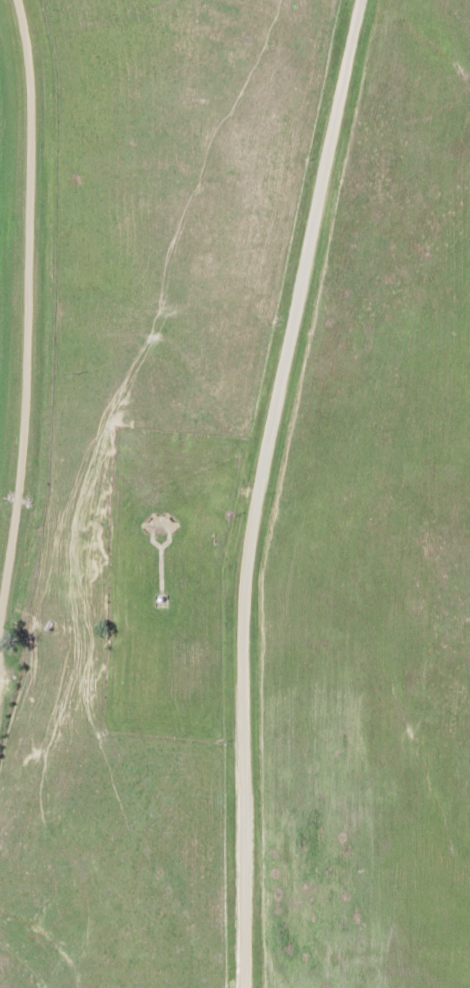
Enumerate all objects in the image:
road: (25, 304)
road: (263, 488)
building: (158, 545)

